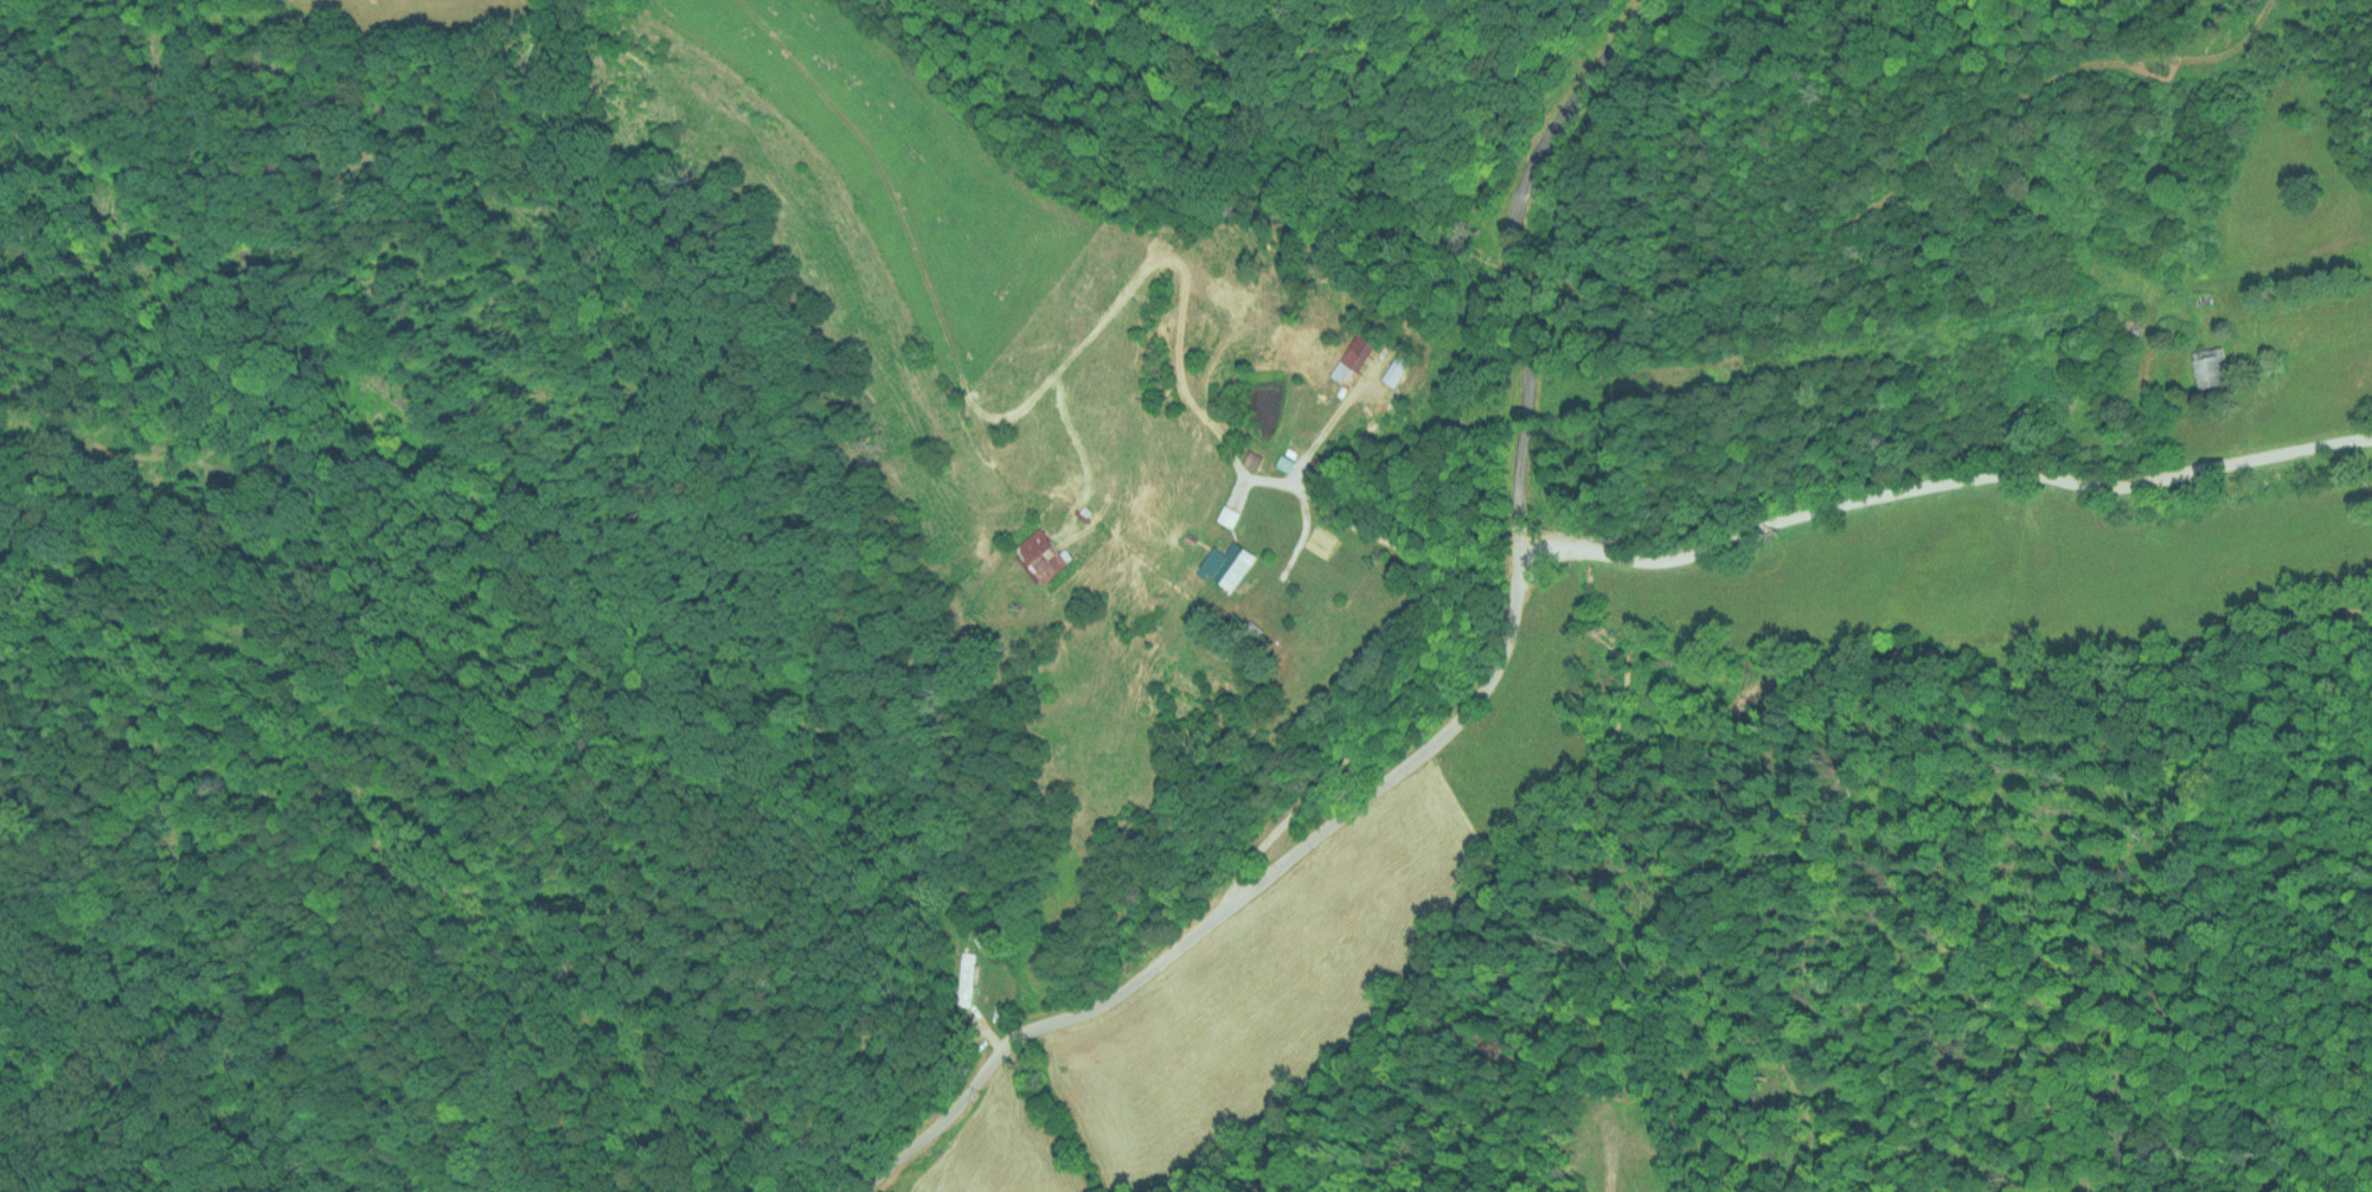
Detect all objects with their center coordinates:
road: (1518, 251)
building: (1355, 348)
building: (1396, 366)
building: (2208, 367)
building: (1249, 459)
building: (1314, 470)
road: (1942, 485)
building: (1224, 515)
building: (1037, 553)
building: (1229, 564)
road: (1402, 691)
road: (1231, 897)
building: (962, 978)

